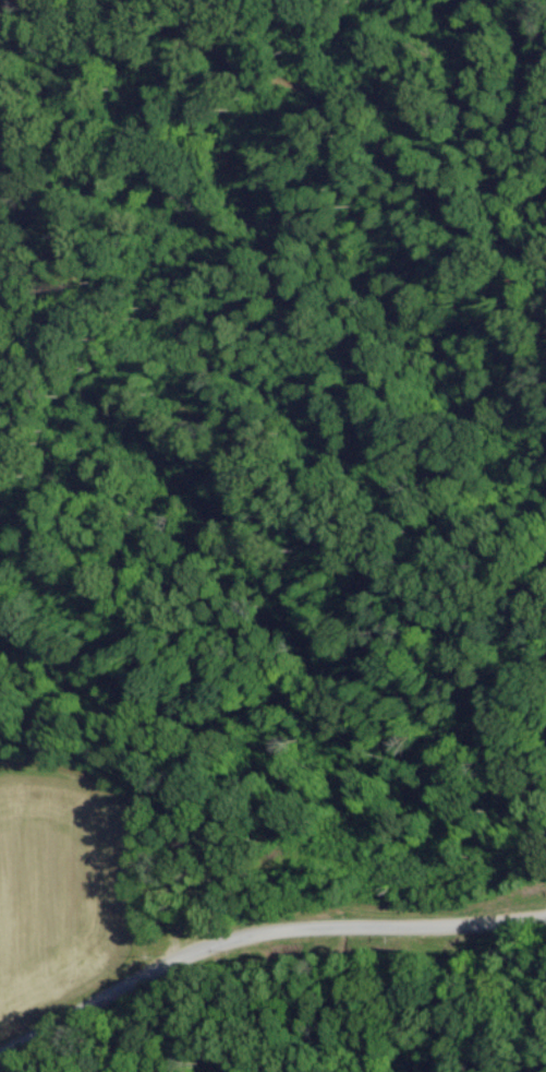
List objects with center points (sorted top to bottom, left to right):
road: (259, 929)

